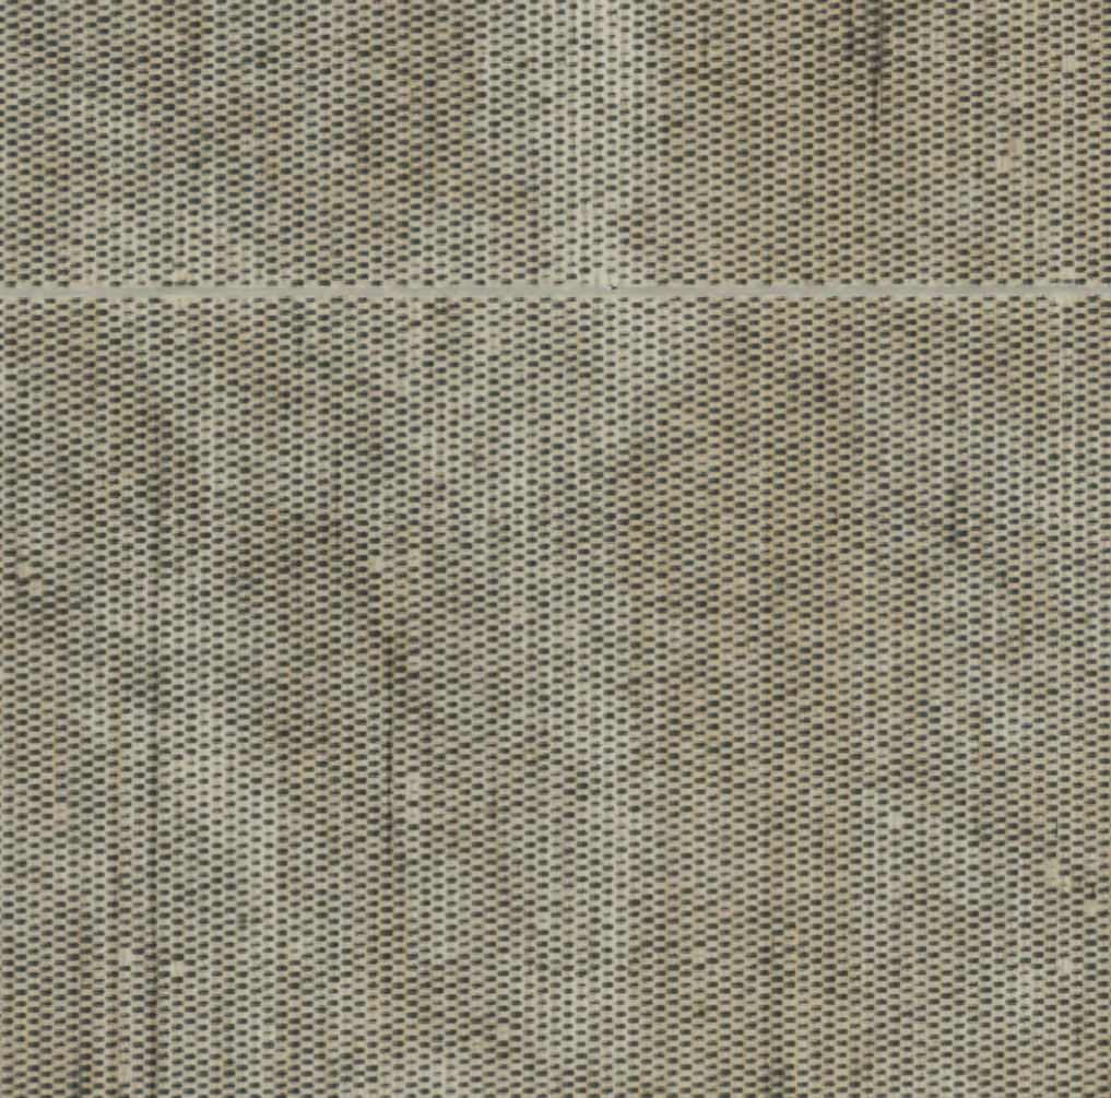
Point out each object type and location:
road: (555, 295)

